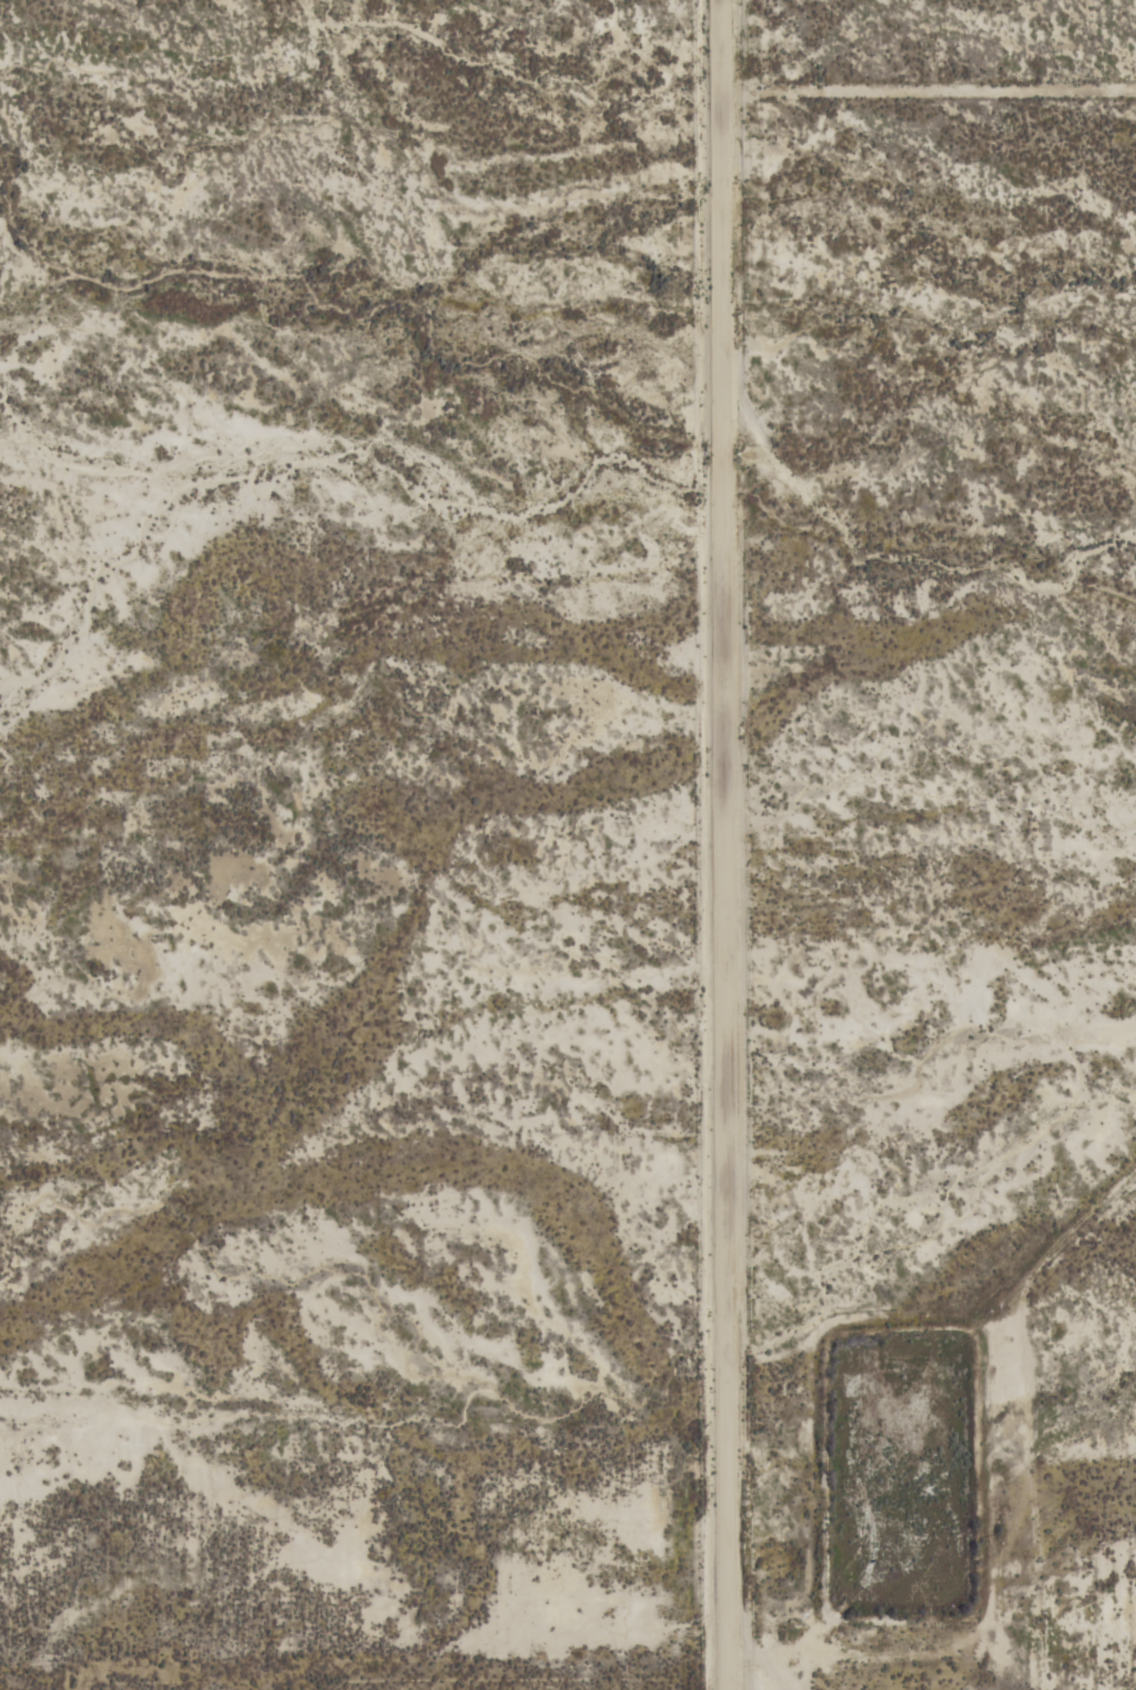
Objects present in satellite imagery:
road: (718, 844)

